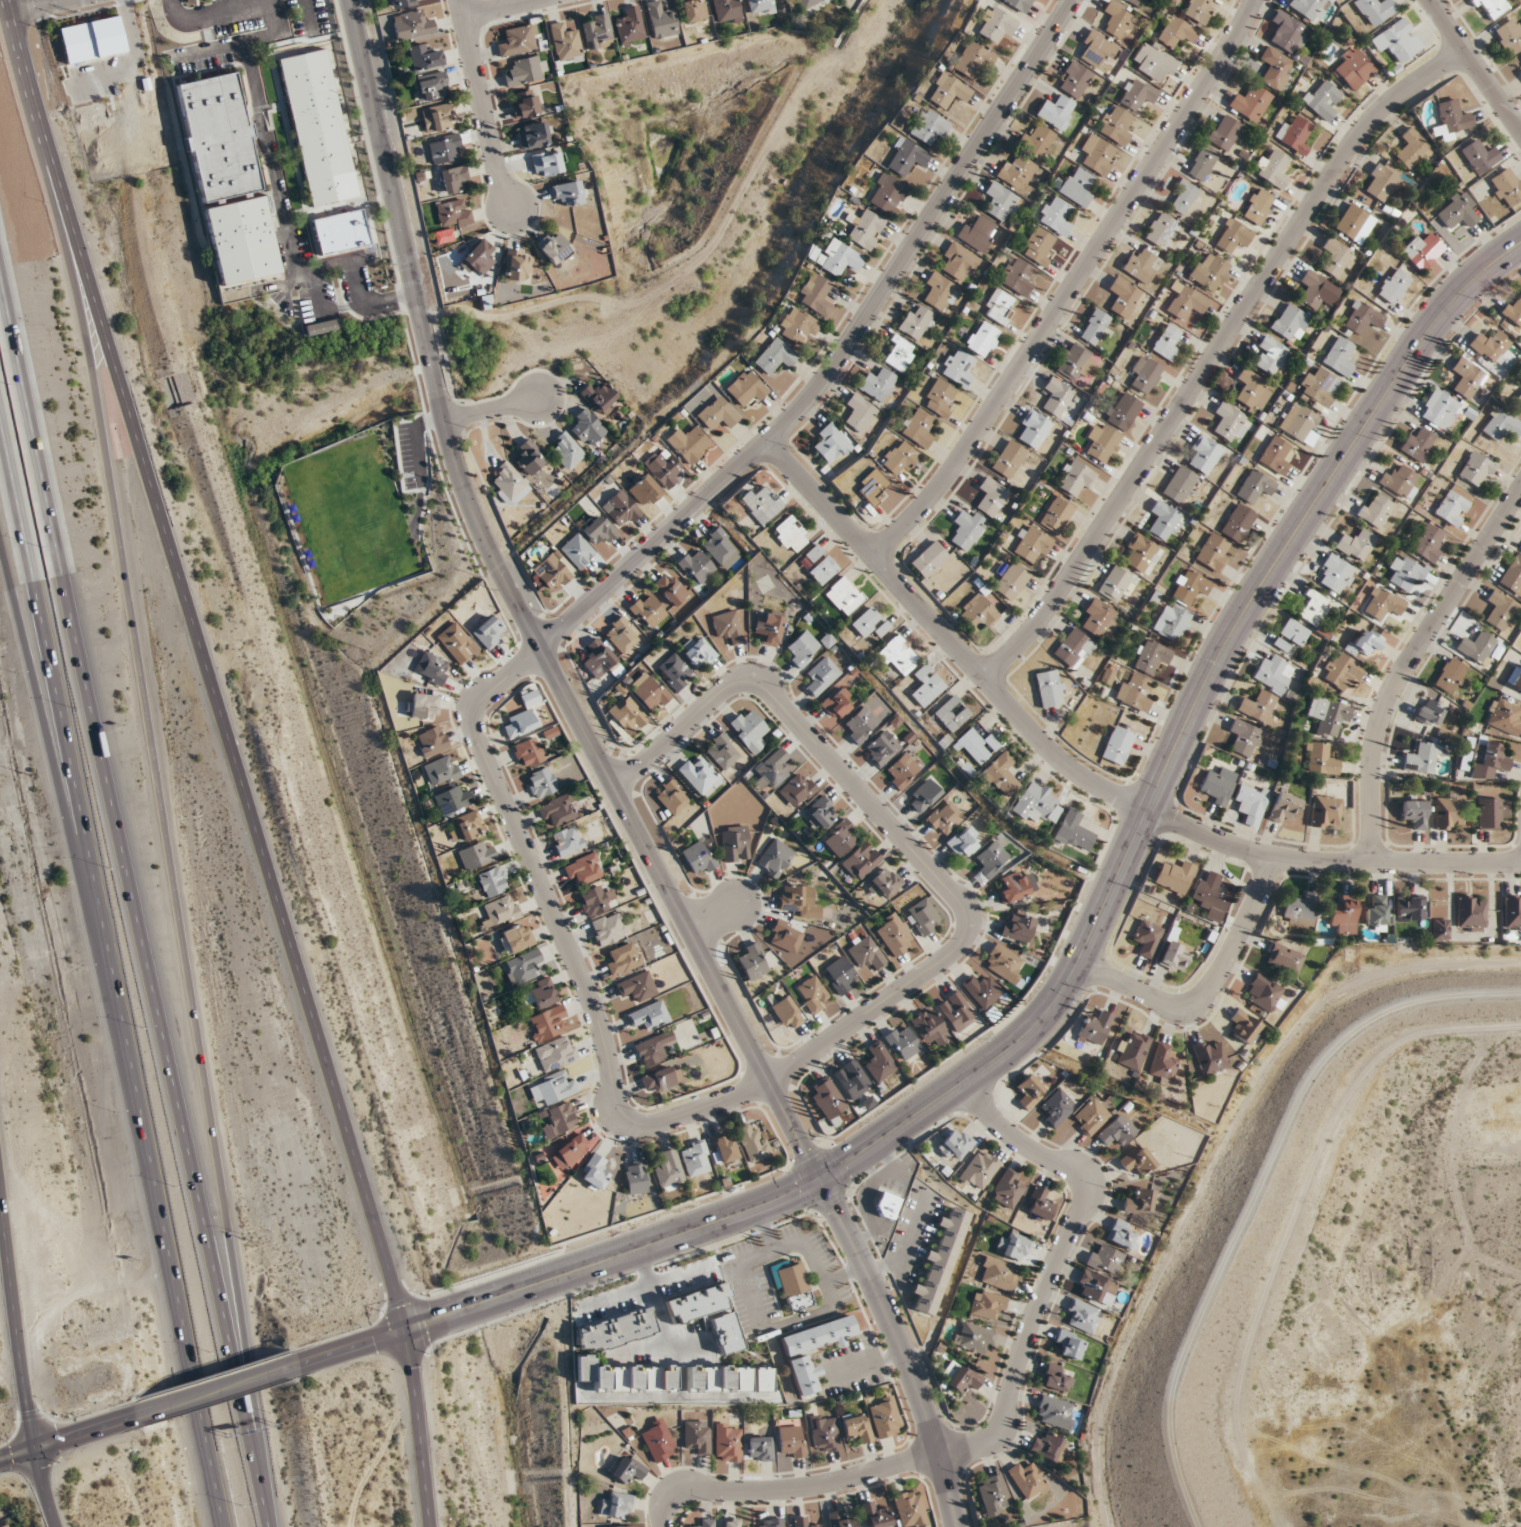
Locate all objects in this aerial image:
road: (271, 1)
building: (1135, 2)
building: (403, 3)
building: (808, 4)
building: (1018, 4)
road: (33, 5)
road: (496, 7)
building: (760, 7)
building: (1308, 8)
building: (1491, 8)
building: (1196, 10)
building: (693, 11)
building: (726, 11)
road: (273, 16)
building: (1117, 19)
road: (311, 20)
building: (661, 20)
building: (996, 24)
building: (412, 25)
building: (630, 26)
building: (597, 31)
building: (1177, 32)
building: (1287, 32)
building: (1509, 36)
building: (1396, 40)
building: (518, 41)
building: (566, 43)
building: (1095, 50)
building: (423, 57)
building: (972, 58)
building: (1153, 60)
road: (25, 62)
road: (1474, 66)
building: (1274, 68)
building: (1353, 68)
road: (137, 69)
building: (526, 71)
building: (1520, 71)
building: (1074, 79)
building: (431, 86)
building: (948, 91)
building: (1137, 94)
building: (1321, 99)
building: (527, 102)
building: (1250, 102)
road: (486, 104)
building: (1055, 111)
building: (438, 118)
building: (1451, 120)
building: (1116, 125)
building: (930, 126)
building: (318, 127)
building: (1223, 133)
building: (534, 135)
building: (1294, 135)
building: (217, 136)
building: (1037, 141)
building: (445, 149)
building: (1413, 149)
building: (1098, 154)
building: (905, 156)
building: (1479, 156)
building: (547, 163)
building: (1201, 164)
building: (1273, 170)
building: (1017, 171)
building: (454, 179)
building: (1383, 179)
building: (1077, 186)
building: (1505, 188)
building: (886, 193)
building: (567, 194)
building: (1182, 197)
building: (1000, 201)
building: (1257, 206)
building: (1457, 210)
building: (453, 213)
building: (1055, 216)
building: (1355, 223)
building: (866, 228)
building: (1159, 229)
building: (977, 232)
building: (1232, 236)
building: (241, 240)
building: (553, 247)
building: (1422, 251)
building: (478, 257)
building: (1335, 257)
building: (839, 258)
building: (959, 261)
building: (1142, 264)
building: (518, 267)
building: (1209, 271)
building: (1018, 276)
road: (1072, 284)
building: (1393, 286)
building: (1314, 290)
building: (941, 292)
building: (817, 295)
building: (1123, 296)
building: (1186, 300)
building: (999, 307)
building: (1362, 318)
building: (916, 321)
building: (1289, 322)
building: (797, 325)
building: (1094, 326)
building: (321, 328)
building: (982, 338)
building: (1167, 342)
building: (1490, 345)
road: (1212, 353)
building: (1270, 355)
building: (774, 356)
building: (1338, 357)
building: (1074, 364)
building: (958, 367)
building: (1145, 373)
building: (1466, 377)
building: (879, 384)
building: (1319, 385)
building: (747, 388)
building: (1253, 389)
building: (599, 397)
building: (940, 397)
building: (1057, 397)
building: (1518, 399)
building: (1439, 409)
road: (494, 411)
building: (1124, 411)
building: (859, 412)
building: (717, 414)
building: (1230, 422)
building: (1298, 422)
building: (1501, 425)
building: (586, 427)
building: (918, 427)
building: (1033, 428)
building: (1102, 442)
building: (831, 443)
building: (688, 444)
building: (1417, 444)
building: (567, 451)
building: (1204, 454)
building: (1277, 455)
building: (528, 458)
building: (901, 459)
building: (663, 467)
building: (1476, 470)
building: (1075, 479)
building: (508, 480)
building: (1399, 480)
building: (1179, 484)
building: (871, 486)
building: (1255, 486)
building: (644, 491)
building: (991, 497)
building: (762, 503)
building: (1451, 508)
building: (620, 509)
building: (1376, 510)
building: (1056, 514)
building: (1163, 520)
building: (1238, 522)
building: (600, 529)
building: (967, 529)
building: (790, 535)
building: (1428, 542)
building: (1031, 543)
building: (1356, 544)
building: (722, 548)
building: (577, 551)
building: (1213, 551)
building: (813, 553)
building: (1140, 554)
building: (928, 559)
building: (696, 566)
building: (823, 570)
building: (1336, 572)
building: (551, 573)
building: (1407, 575)
building: (1512, 575)
building: (1011, 580)
building: (1114, 583)
building: (1189, 586)
building: (672, 587)
building: (844, 595)
road: (596, 597)
building: (1383, 603)
building: (1315, 607)
building: (1501, 609)
building: (648, 611)
road: (522, 613)
building: (977, 613)
building: (1100, 619)
building: (1171, 622)
building: (768, 626)
building: (727, 627)
building: (488, 632)
building: (1294, 632)
building: (622, 635)
building: (454, 642)
building: (1074, 647)
building: (1479, 647)
building: (802, 650)
building: (698, 652)
building: (898, 656)
building: (1151, 657)
building: (600, 660)
road: (1408, 661)
building: (432, 669)
building: (1342, 671)
road: (38, 672)
building: (674, 672)
building: (1274, 673)
building: (1450, 675)
building: (821, 676)
building: (1518, 679)
building: (927, 684)
building: (1050, 688)
building: (648, 691)
building: (1136, 693)
building: (529, 698)
building: (837, 704)
building: (421, 705)
building: (1259, 706)
building: (950, 713)
building: (1429, 713)
building: (1327, 716)
building: (625, 717)
building: (1504, 717)
building: (518, 724)
building: (860, 725)
building: (749, 729)
building: (1244, 737)
building: (431, 741)
building: (977, 745)
building: (1117, 745)
building: (881, 748)
building: (722, 751)
building: (528, 752)
building: (1422, 758)
building: (1320, 759)
building: (1491, 760)
building: (771, 769)
building: (441, 771)
building: (902, 771)
building: (1002, 774)
building: (700, 775)
road: (1081, 775)
building: (542, 782)
building: (1217, 786)
building: (796, 790)
road: (157, 794)
building: (923, 795)
building: (672, 796)
building: (452, 799)
building: (1250, 802)
building: (1037, 803)
building: (1284, 807)
building: (558, 810)
building: (1324, 811)
building: (819, 812)
building: (1415, 813)
building: (1450, 813)
building: (1490, 813)
building: (944, 818)
road: (253, 821)
building: (469, 826)
road: (893, 827)
building: (1074, 832)
building: (840, 838)
building: (567, 841)
building: (963, 843)
building: (734, 844)
road: (127, 854)
building: (476, 855)
building: (698, 858)
building: (774, 858)
building: (991, 859)
building: (860, 861)
building: (583, 869)
building: (1173, 876)
building: (492, 882)
building: (885, 882)
building: (1015, 886)
building: (1209, 892)
building: (596, 900)
building: (797, 901)
building: (1408, 908)
building: (1300, 909)
building: (501, 911)
building: (1512, 912)
building: (1376, 914)
building: (1471, 914)
building: (1344, 915)
road: (712, 916)
building: (923, 917)
building: (1018, 927)
building: (608, 929)
building: (1440, 929)
building: (894, 934)
building: (784, 936)
building: (1147, 937)
building: (515, 938)
building: (867, 953)
building: (1174, 955)
building: (1284, 958)
building: (621, 959)
building: (751, 961)
building: (1004, 964)
building: (522, 967)
building: (839, 976)
road: (1066, 982)
building: (637, 987)
road: (1206, 989)
building: (981, 991)
road: (110, 992)
building: (1264, 992)
building: (540, 994)
building: (813, 994)
building: (956, 1011)
building: (786, 1013)
building: (649, 1016)
building: (548, 1023)
building: (929, 1027)
building: (1244, 1027)
building: (1095, 1028)
building: (903, 1043)
building: (652, 1049)
building: (1132, 1050)
building: (555, 1053)
building: (1210, 1057)
building: (879, 1062)
building: (1163, 1065)
building: (661, 1079)
building: (851, 1079)
building: (552, 1089)
building: (1030, 1090)
building: (827, 1099)
building: (1056, 1108)
building: (1090, 1116)
building: (561, 1117)
building: (1118, 1130)
building: (752, 1143)
building: (954, 1145)
building: (722, 1149)
building: (569, 1152)
building: (695, 1158)
building: (1138, 1160)
road: (84, 1161)
building: (668, 1171)
building: (978, 1171)
building: (594, 1173)
building: (635, 1177)
traffic signals: (822, 1179)
dam: (1260, 1190)
building: (1139, 1202)
building: (886, 1205)
building: (1038, 1205)
building: (1121, 1235)
building: (1013, 1246)
building: (1104, 1261)
building: (939, 1264)
building: (998, 1275)
road: (651, 1285)
building: (1094, 1286)
building: (794, 1287)
building: (987, 1306)
road: (659, 1313)
building: (1083, 1315)
traffic signals: (408, 1330)
building: (817, 1335)
building: (973, 1337)
building: (1071, 1344)
road: (900, 1348)
road: (642, 1350)
road: (22, 1354)
building: (804, 1375)
building: (1057, 1378)
building: (962, 1379)
road: (217, 1391)
road: (1007, 1405)
building: (1054, 1412)
building: (886, 1416)
building: (857, 1427)
building: (824, 1434)
building: (697, 1437)
road: (69, 1438)
building: (657, 1441)
building: (728, 1442)
building: (791, 1442)
building: (1046, 1446)
building: (759, 1448)
traffic signals: (34, 1450)
building: (627, 1470)
building: (1027, 1481)
building: (992, 1495)
road: (261, 1497)
building: (617, 1506)
building: (909, 1508)
building: (874, 1516)
building: (839, 1520)
building: (770, 1522)
building: (802, 1522)
building: (705, 1523)
building: (730, 1523)
building: (621, 1526)

